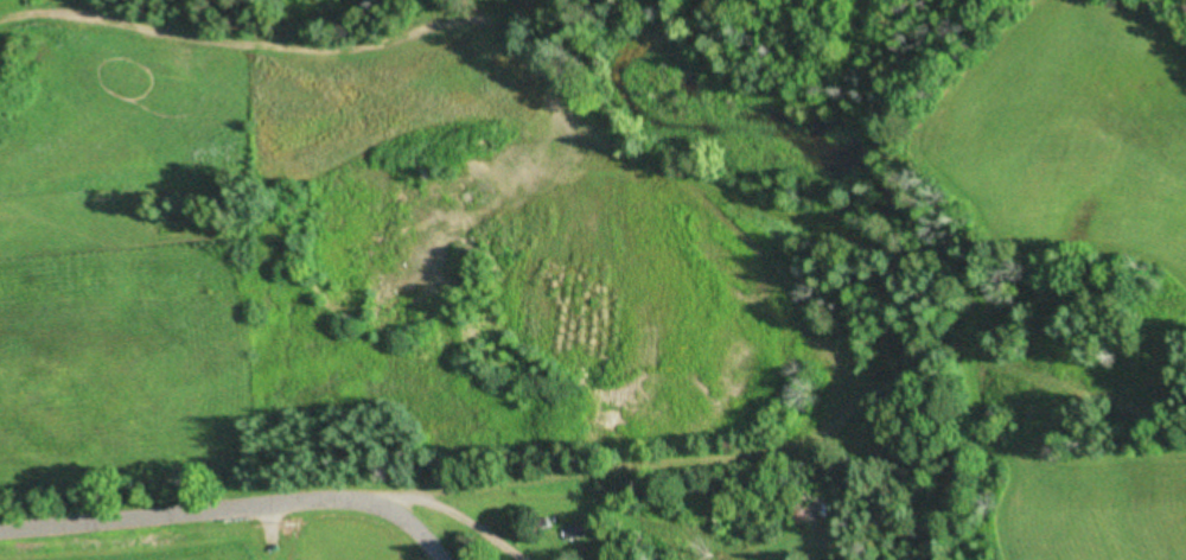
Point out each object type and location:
road: (230, 507)

